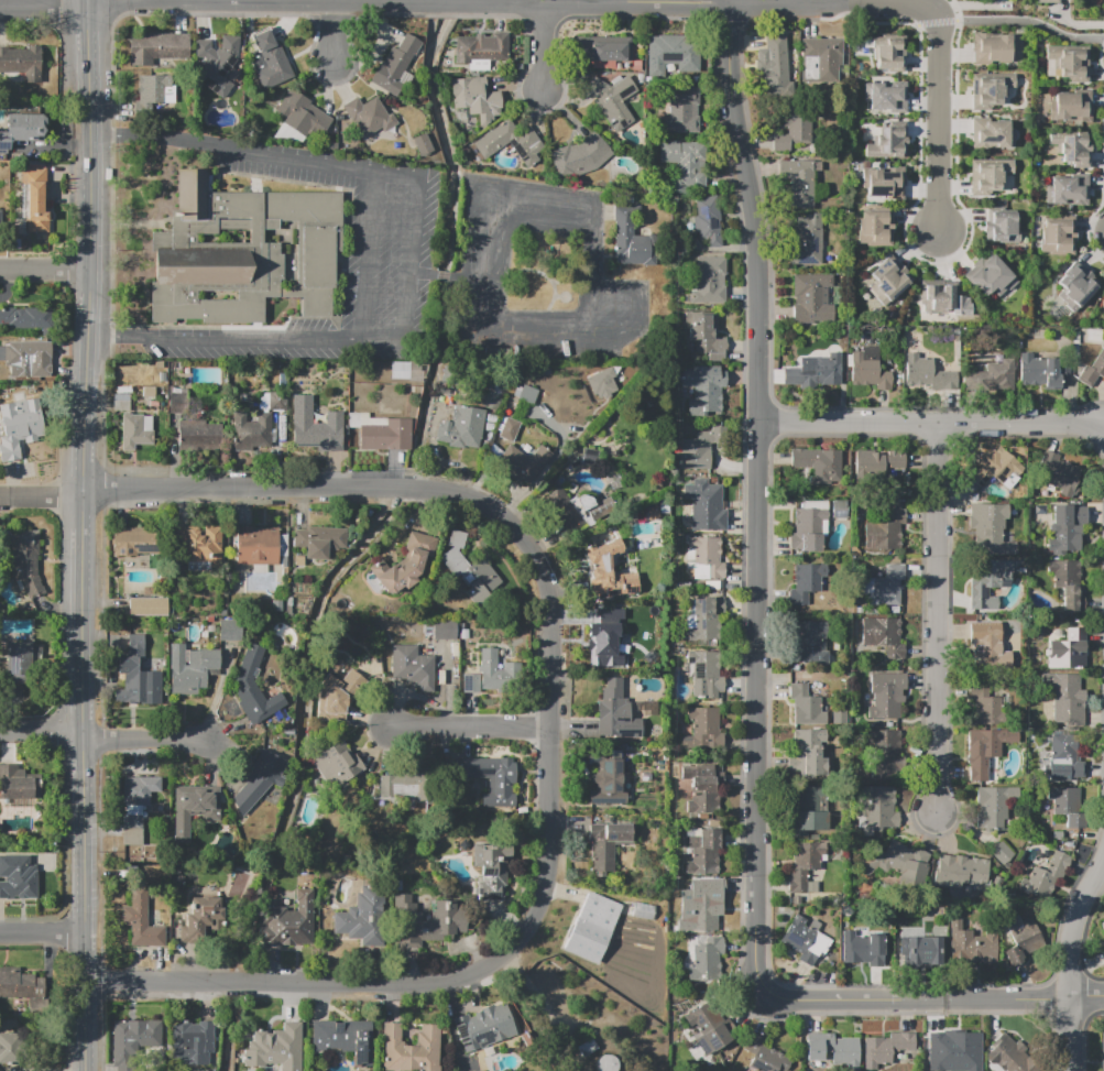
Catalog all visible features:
road: (839, 1)
building: (1046, 1)
road: (87, 2)
road: (407, 2)
road: (930, 2)
road: (43, 6)
road: (965, 6)
road: (1023, 21)
road: (1078, 23)
road: (337, 33)
road: (540, 46)
building: (155, 47)
building: (999, 47)
building: (479, 50)
building: (605, 52)
building: (670, 53)
building: (888, 53)
building: (824, 58)
building: (270, 62)
building: (1068, 63)
building: (21, 64)
building: (217, 64)
building: (392, 65)
building: (772, 66)
building: (151, 87)
building: (999, 91)
building: (883, 94)
building: (474, 99)
building: (611, 99)
building: (1069, 105)
building: (680, 111)
building: (300, 113)
building: (378, 118)
building: (793, 127)
road: (938, 127)
building: (22, 129)
building: (991, 133)
road: (155, 136)
building: (511, 141)
building: (885, 142)
building: (422, 143)
building: (1068, 147)
building: (579, 156)
road: (298, 160)
building: (684, 165)
road: (90, 168)
road: (397, 176)
building: (991, 177)
building: (798, 181)
building: (881, 182)
building: (1065, 192)
building: (35, 199)
building: (0, 219)
building: (703, 223)
building: (998, 223)
building: (874, 228)
building: (1057, 236)
building: (631, 241)
building: (805, 241)
building: (241, 253)
parking lot: (390, 253)
road: (370, 254)
road: (593, 254)
road: (409, 256)
road: (44, 270)
road: (422, 273)
road: (442, 275)
building: (886, 280)
building: (994, 280)
building: (707, 281)
building: (1074, 286)
building: (934, 297)
building: (810, 298)
building: (25, 317)
road: (244, 335)
building: (704, 336)
building: (26, 358)
building: (865, 368)
building: (821, 370)
building: (1041, 371)
building: (1092, 371)
building: (387, 372)
building: (927, 373)
building: (998, 375)
building: (334, 379)
building: (601, 382)
building: (702, 387)
building: (123, 390)
building: (149, 392)
building: (528, 394)
building: (276, 401)
building: (121, 402)
building: (175, 402)
building: (25, 422)
road: (931, 425)
building: (460, 428)
building: (509, 429)
building: (133, 433)
building: (250, 433)
building: (385, 435)
building: (317, 436)
building: (197, 437)
building: (697, 450)
building: (521, 462)
building: (898, 462)
building: (818, 466)
building: (1001, 469)
building: (1064, 477)
road: (757, 494)
road: (40, 496)
building: (704, 505)
building: (576, 512)
building: (988, 529)
building: (1064, 529)
building: (806, 531)
building: (884, 532)
building: (133, 540)
building: (320, 540)
building: (258, 545)
building: (196, 546)
building: (24, 559)
building: (702, 559)
building: (405, 564)
building: (469, 569)
building: (608, 570)
building: (1068, 582)
building: (890, 584)
building: (987, 584)
building: (805, 588)
building: (147, 606)
building: (704, 618)
road: (940, 619)
building: (229, 629)
building: (444, 630)
building: (601, 636)
building: (885, 636)
building: (986, 636)
building: (808, 643)
building: (1068, 651)
road: (83, 657)
building: (412, 666)
building: (19, 668)
building: (190, 668)
building: (134, 674)
building: (485, 675)
building: (707, 677)
building: (254, 687)
building: (884, 696)
building: (337, 697)
building: (1067, 699)
building: (805, 706)
building: (986, 706)
building: (614, 713)
road: (471, 724)
building: (704, 725)
road: (41, 731)
road: (551, 734)
road: (147, 740)
building: (985, 747)
building: (1068, 753)
building: (808, 754)
building: (885, 756)
building: (337, 764)
building: (490, 779)
building: (256, 782)
building: (19, 784)
building: (608, 787)
building: (401, 788)
building: (701, 795)
building: (1064, 805)
building: (135, 806)
building: (876, 807)
building: (991, 807)
building: (195, 808)
building: (806, 813)
building: (605, 845)
building: (703, 853)
building: (899, 862)
building: (806, 867)
building: (1054, 868)
building: (491, 871)
building: (960, 871)
building: (19, 879)
building: (702, 914)
building: (140, 919)
building: (361, 919)
building: (200, 921)
building: (288, 922)
building: (425, 922)
building: (1102, 926)
building: (593, 928)
road: (43, 935)
building: (805, 939)
building: (1023, 941)
building: (971, 946)
building: (862, 948)
building: (1103, 948)
building: (917, 953)
building: (706, 959)
road: (1073, 963)
building: (22, 983)
road: (932, 999)
building: (711, 1025)
building: (485, 1026)
road: (86, 1027)
building: (133, 1037)
building: (345, 1038)
building: (192, 1039)
building: (274, 1047)
building: (959, 1047)
building: (904, 1048)
building: (7, 1049)
building: (409, 1049)
building: (834, 1050)
building: (1102, 1050)
building: (876, 1052)
building: (764, 1057)
building: (1009, 1057)
building: (604, 1062)
building: (479, 1070)

